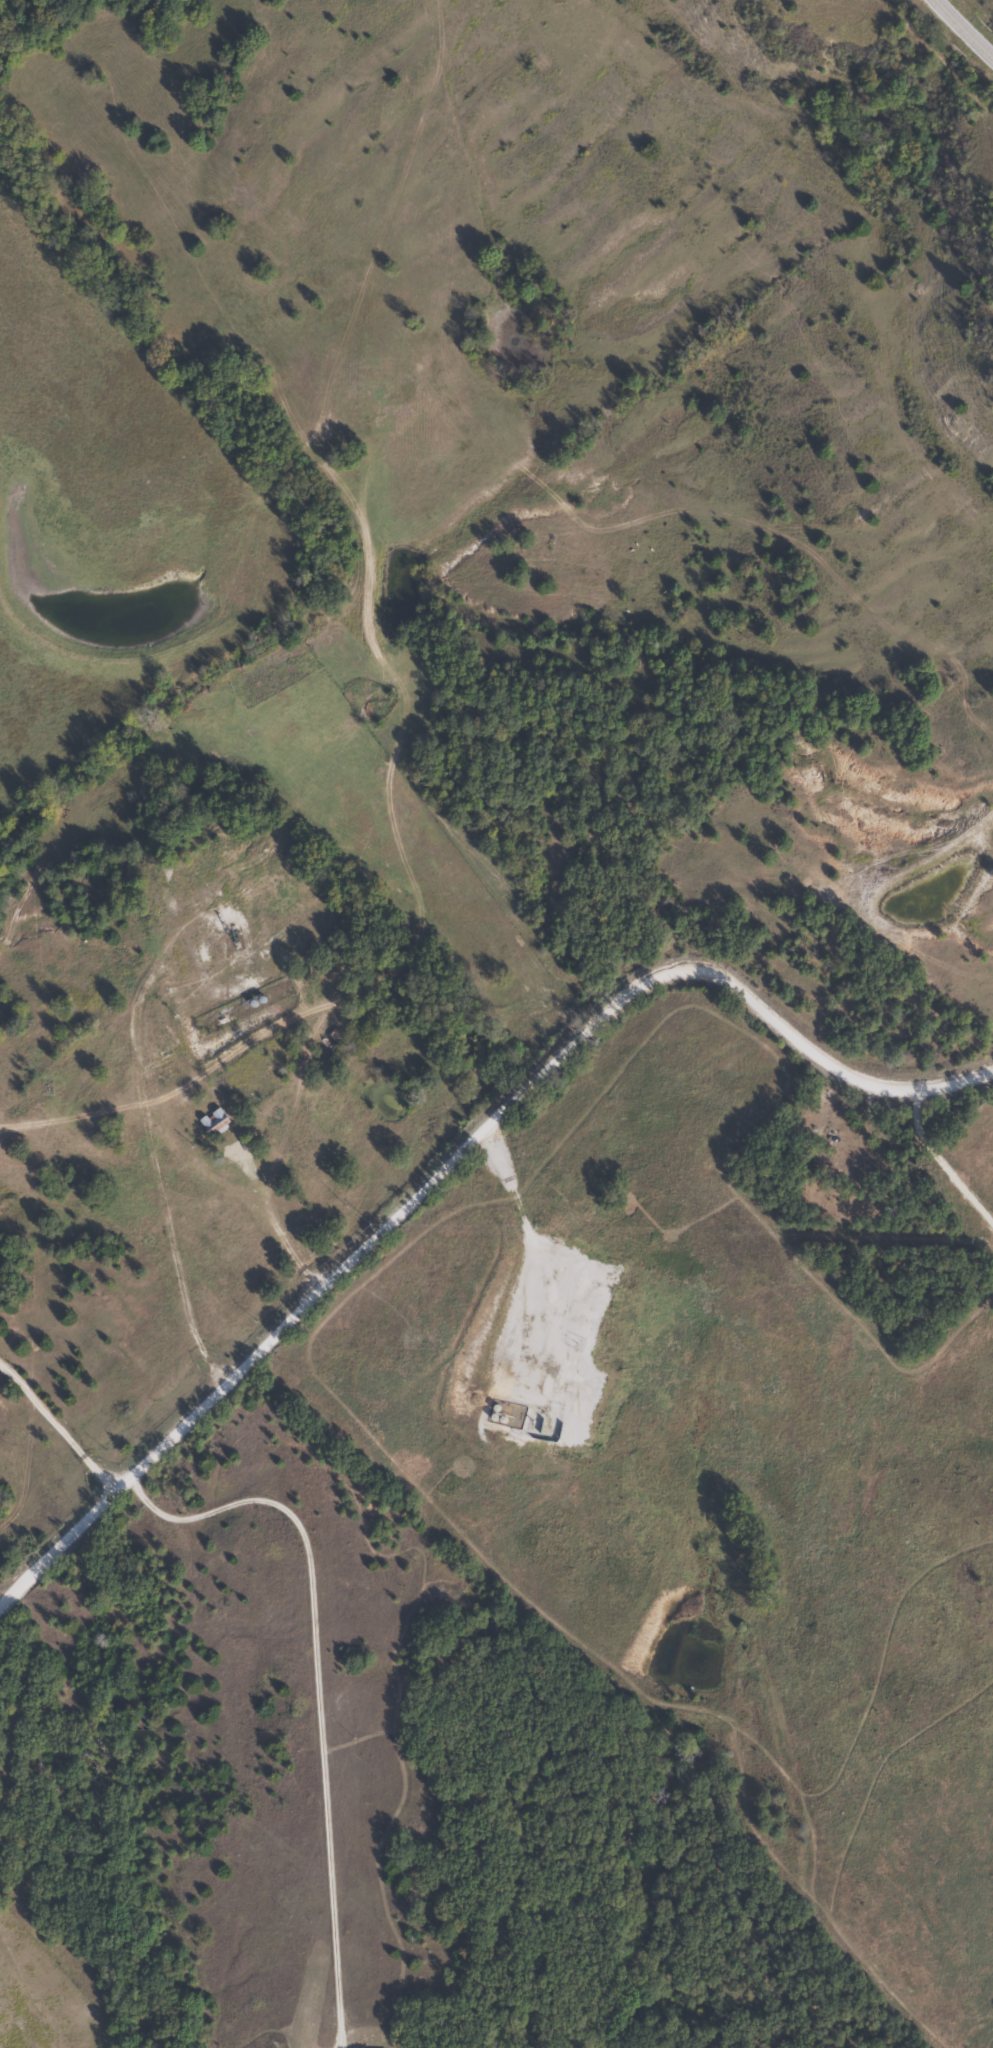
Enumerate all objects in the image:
road: (964, 28)
road: (804, 1049)
road: (907, 1089)
building: (210, 1123)
road: (514, 1207)
park: (862, 1214)
road: (376, 1230)

